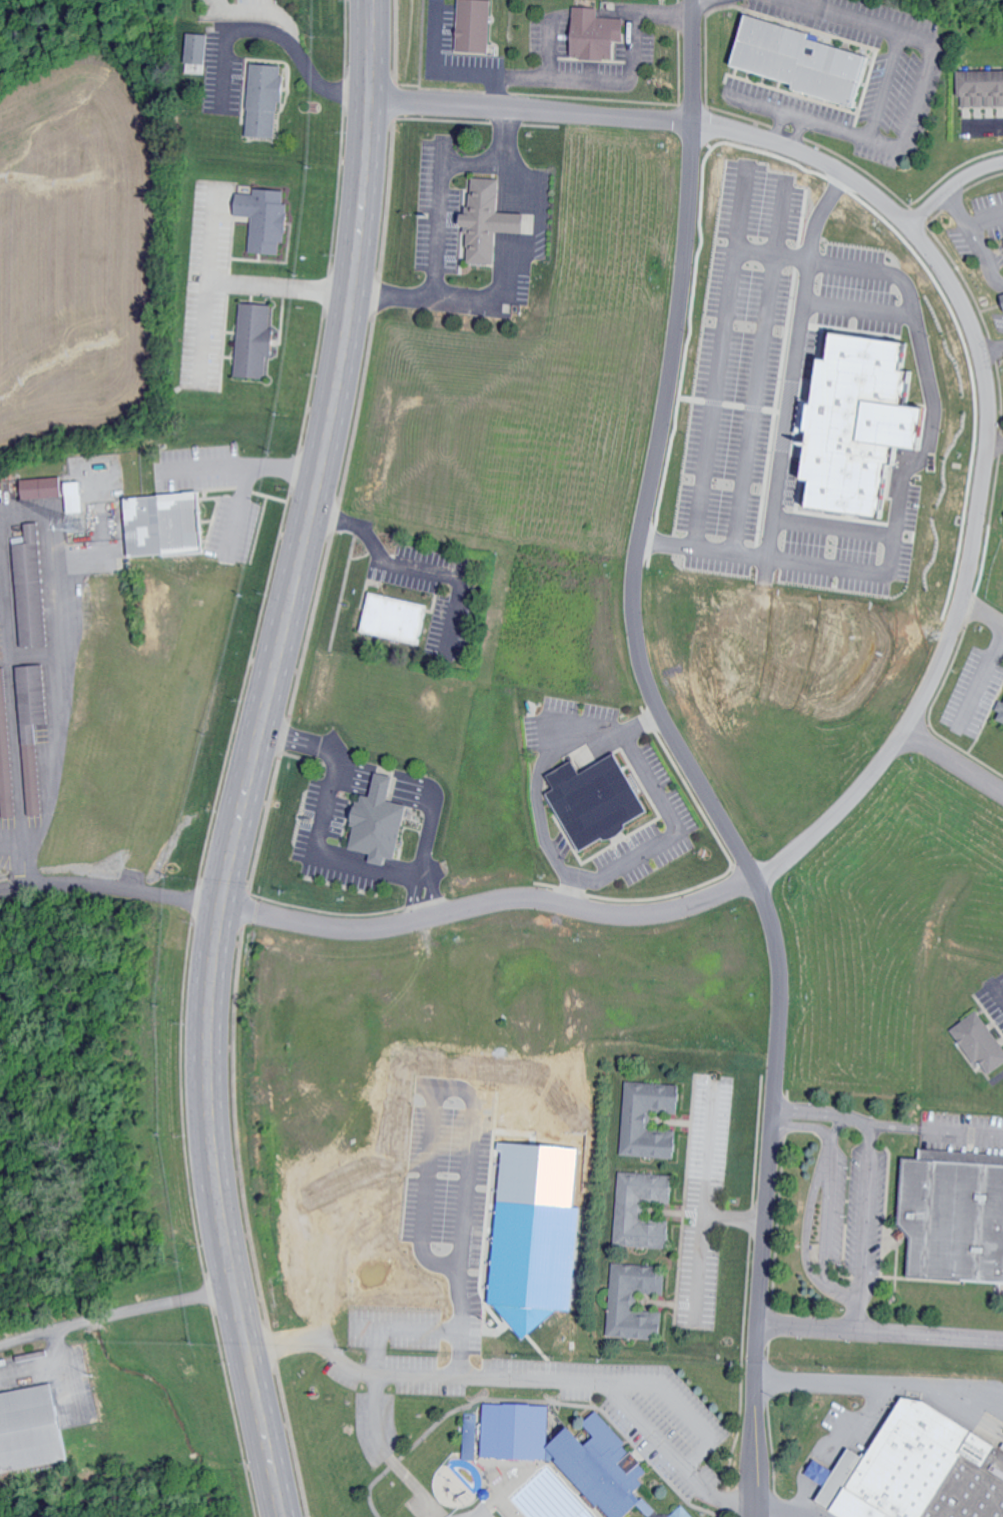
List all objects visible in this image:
road: (844, 19)
building: (477, 25)
road: (274, 33)
building: (597, 34)
building: (199, 48)
building: (739, 51)
building: (808, 60)
road: (568, 82)
road: (885, 87)
building: (983, 88)
road: (914, 96)
building: (267, 98)
road: (529, 106)
road: (817, 120)
road: (984, 123)
road: (516, 186)
road: (953, 189)
road: (958, 207)
road: (440, 211)
road: (985, 217)
building: (268, 218)
road: (780, 218)
building: (491, 220)
road: (516, 223)
road: (813, 234)
road: (976, 240)
road: (209, 243)
road: (993, 271)
road: (286, 290)
road: (497, 291)
road: (831, 304)
road: (204, 330)
building: (258, 340)
road: (993, 351)
road: (716, 397)
road: (755, 403)
building: (867, 424)
road: (997, 447)
road: (989, 459)
road: (161, 465)
road: (281, 470)
building: (44, 488)
building: (77, 497)
road: (233, 512)
road: (45, 513)
building: (167, 524)
road: (797, 560)
road: (412, 569)
building: (33, 587)
building: (399, 618)
road: (991, 654)
road: (29, 659)
road: (9, 678)
building: (1002, 710)
building: (1002, 718)
building: (33, 728)
building: (6, 749)
road: (53, 753)
road: (252, 758)
road: (686, 761)
road: (953, 768)
road: (354, 779)
road: (536, 781)
road: (382, 786)
road: (413, 793)
building: (601, 801)
building: (382, 823)
road: (676, 826)
road: (17, 842)
road: (315, 855)
road: (13, 885)
road: (175, 898)
road: (422, 899)
road: (487, 903)
building: (982, 1040)
road: (820, 1112)
building: (652, 1119)
road: (935, 1130)
road: (467, 1153)
road: (705, 1189)
road: (827, 1196)
building: (645, 1209)
building: (957, 1213)
road: (807, 1222)
road: (861, 1227)
building: (538, 1233)
road: (700, 1262)
building: (637, 1300)
road: (116, 1314)
road: (879, 1332)
road: (461, 1348)
road: (518, 1374)
road: (879, 1385)
building: (31, 1426)
building: (582, 1455)
building: (923, 1470)
road: (785, 1511)
road: (797, 1515)

